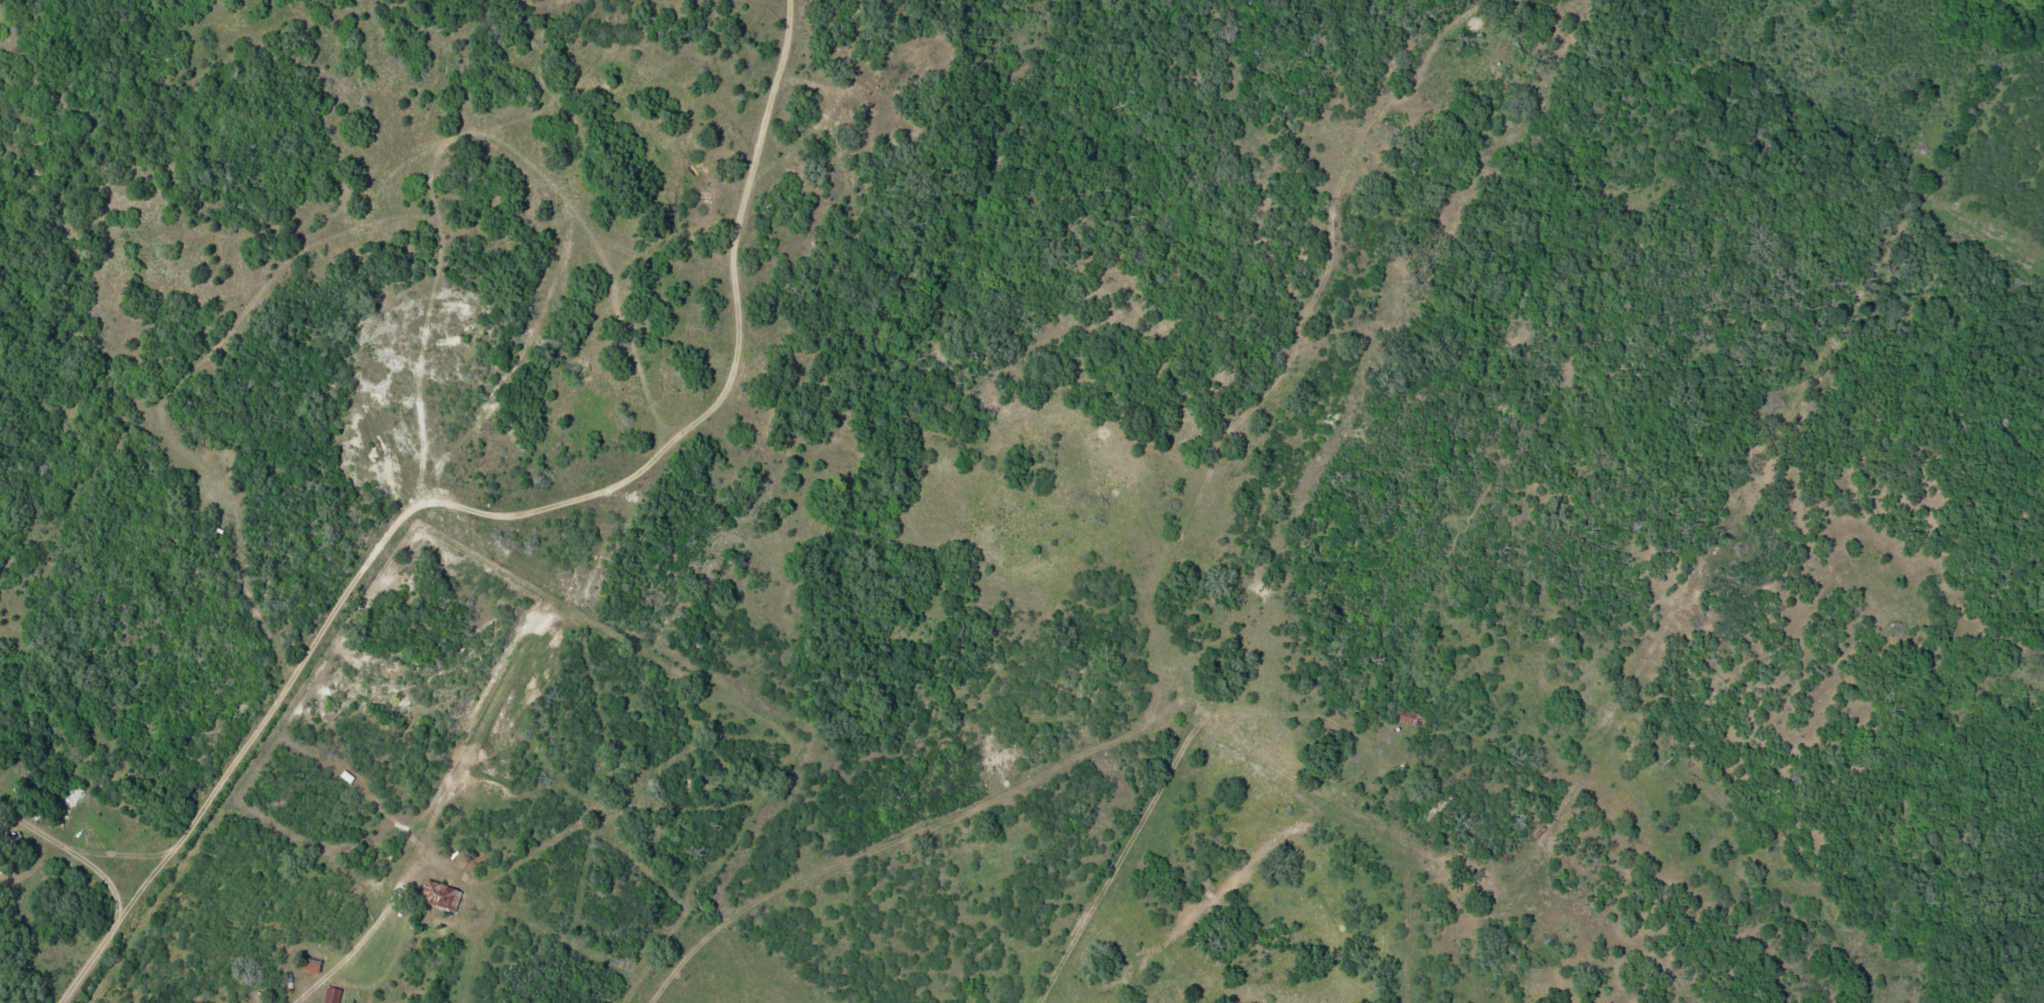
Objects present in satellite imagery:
road: (1514, 420)
road: (795, 687)
road: (1510, 843)
building: (440, 896)
building: (310, 965)
road: (2036, 988)
building: (331, 995)

